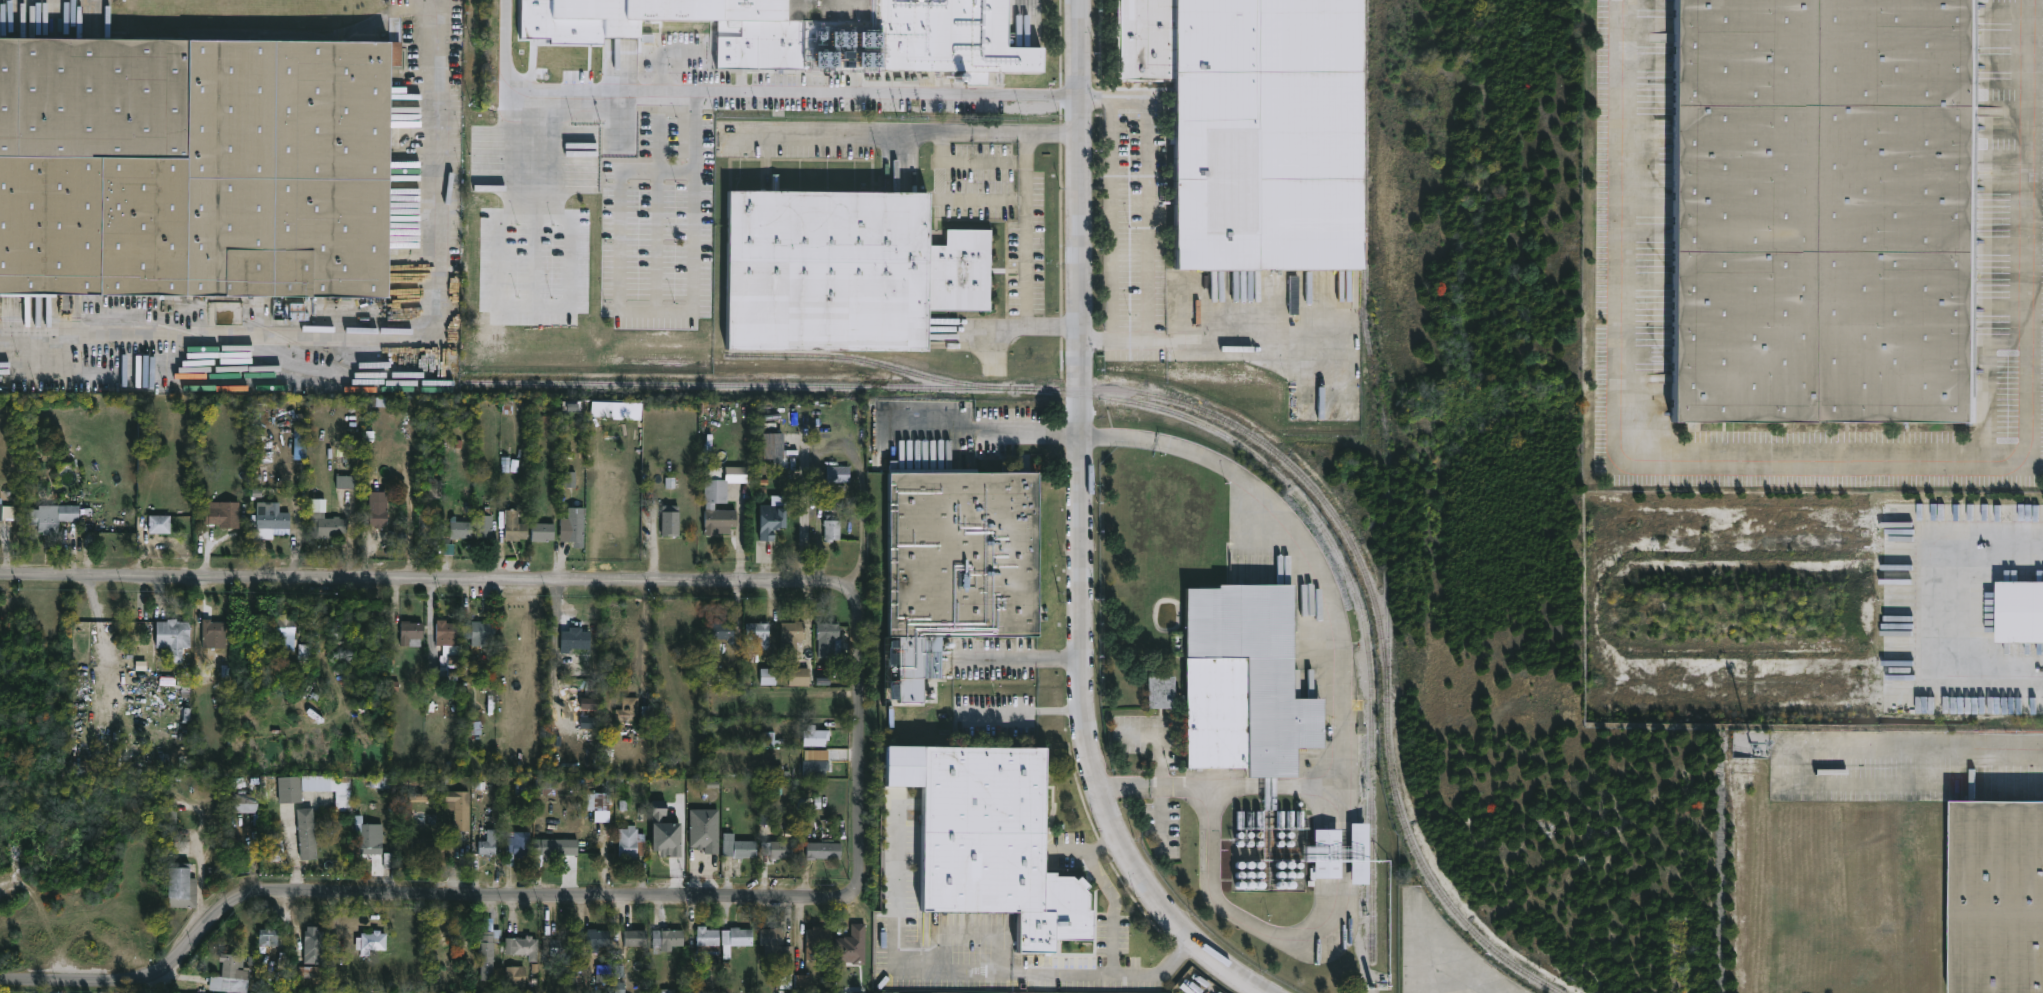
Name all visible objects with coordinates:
building: (835, 32)
building: (570, 50)
road: (753, 90)
building: (1255, 125)
road: (1053, 131)
road: (846, 134)
building: (196, 167)
building: (1816, 210)
road: (1150, 223)
road: (1028, 228)
building: (850, 268)
road: (663, 310)
building: (297, 311)
railway: (267, 329)
road: (997, 329)
road: (1242, 332)
road: (383, 339)
railway: (859, 358)
railway: (964, 386)
building: (602, 408)
railway: (1383, 408)
road: (933, 428)
road: (1026, 429)
road: (1117, 434)
building: (773, 445)
road: (1198, 457)
building: (505, 463)
road: (1819, 465)
building: (840, 473)
building: (569, 479)
building: (346, 481)
building: (711, 506)
building: (1, 508)
building: (225, 514)
building: (51, 516)
building: (772, 517)
building: (274, 518)
building: (377, 518)
building: (671, 520)
building: (429, 521)
building: (160, 523)
building: (328, 526)
building: (515, 526)
building: (486, 527)
building: (577, 528)
building: (833, 528)
road: (863, 528)
building: (462, 529)
building: (544, 531)
road: (1080, 531)
building: (970, 555)
road: (1926, 555)
railway: (1348, 573)
road: (412, 579)
building: (2020, 613)
building: (285, 628)
building: (212, 631)
building: (411, 631)
building: (725, 631)
building: (760, 632)
building: (447, 633)
building: (480, 633)
building: (174, 637)
building: (830, 638)
building: (576, 640)
building: (792, 640)
building: (448, 657)
road: (1024, 657)
building: (767, 676)
building: (800, 676)
road: (1992, 683)
building: (1249, 685)
building: (630, 709)
road: (1024, 709)
road: (863, 726)
building: (816, 736)
road: (1156, 740)
road: (1914, 747)
building: (816, 767)
building: (379, 781)
road: (1123, 782)
road: (1161, 782)
road: (1278, 784)
building: (548, 785)
building: (291, 787)
building: (330, 787)
building: (418, 796)
building: (245, 801)
building: (600, 804)
building: (460, 807)
building: (766, 815)
building: (172, 816)
road: (1342, 823)
building: (704, 829)
building: (308, 831)
building: (664, 831)
building: (370, 835)
building: (990, 839)
building: (632, 841)
building: (490, 842)
building: (519, 842)
building: (738, 844)
building: (547, 846)
building: (432, 847)
building: (778, 847)
building: (826, 848)
building: (276, 850)
building: (1331, 855)
building: (1361, 855)
building: (182, 884)
road: (1107, 890)
road: (412, 894)
building: (1998, 899)
building: (268, 933)
building: (735, 935)
building: (636, 936)
building: (599, 937)
building: (667, 938)
building: (704, 938)
building: (372, 941)
building: (819, 942)
building: (314, 944)
building: (524, 945)
building: (852, 945)
building: (561, 948)
building: (488, 951)
building: (781, 951)
road: (965, 966)
building: (308, 971)
building: (602, 973)
building: (231, 975)
building: (516, 975)
building: (803, 980)

